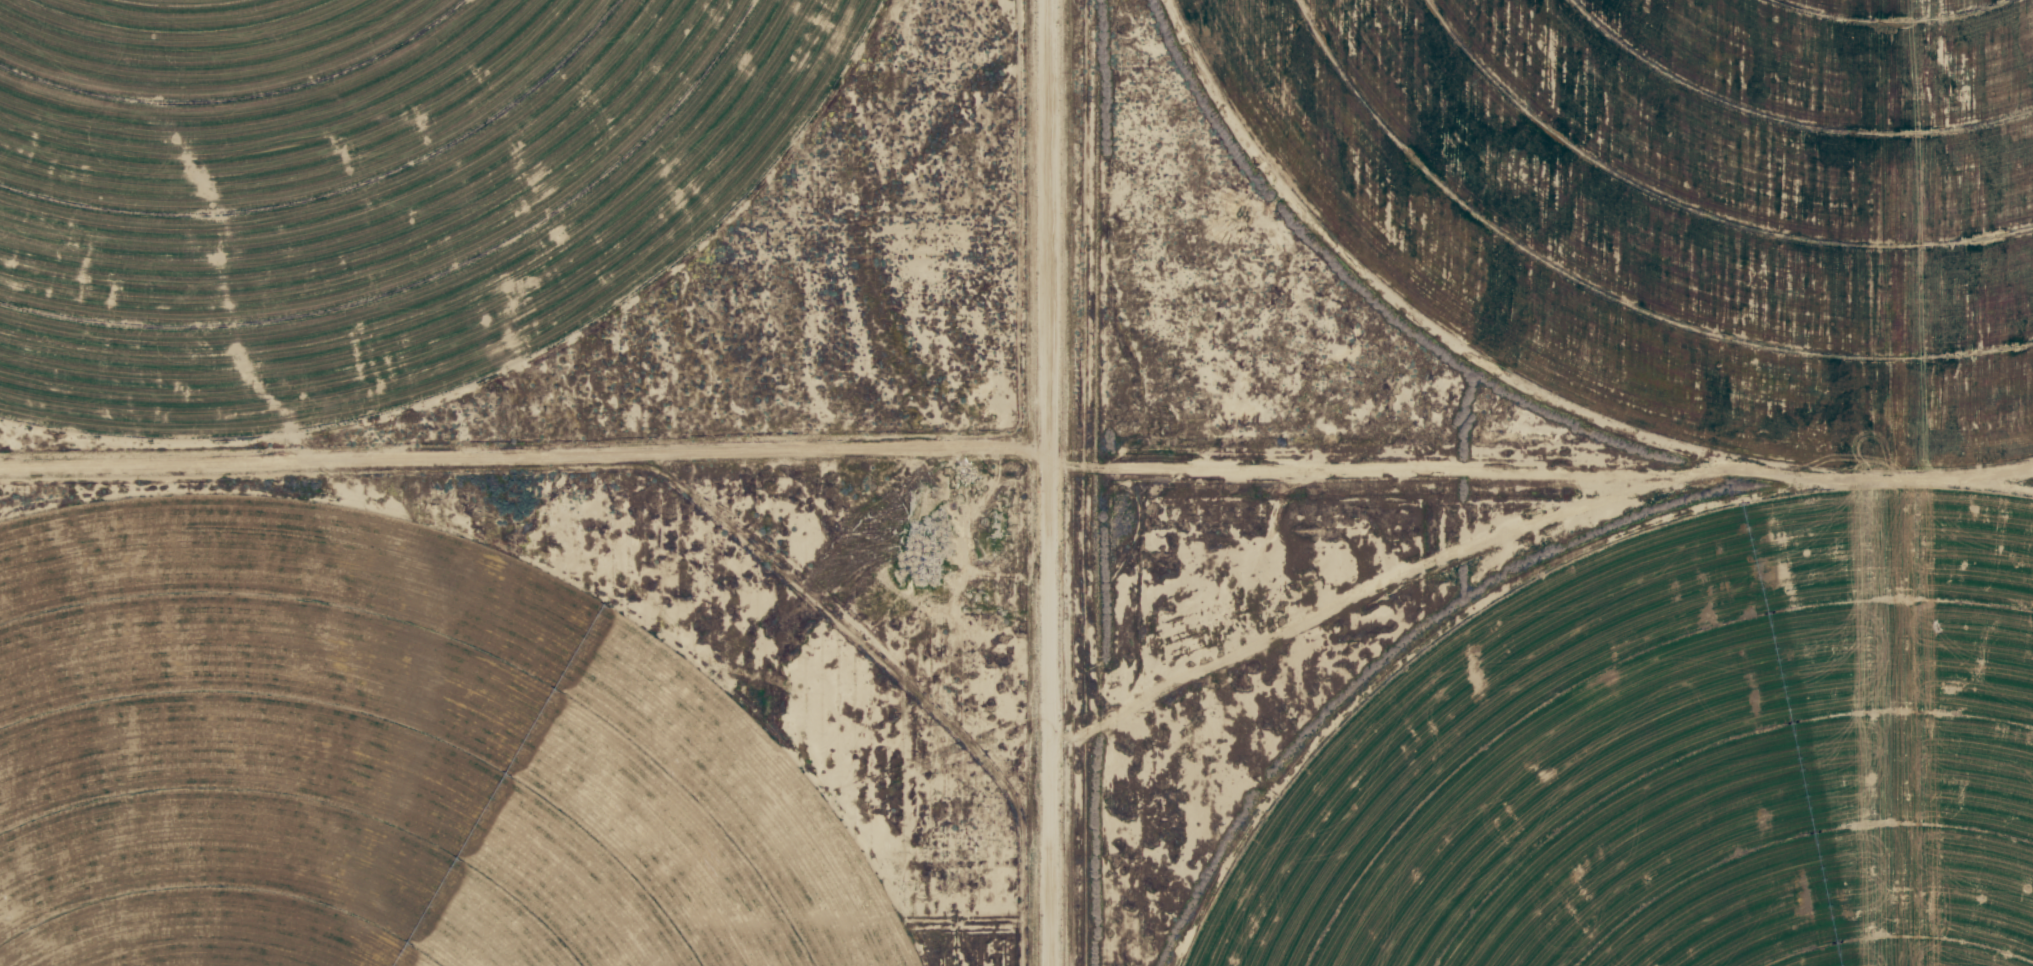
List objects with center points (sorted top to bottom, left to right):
crop: (359, 183)
road: (1405, 468)
road: (1026, 482)
crop: (1874, 484)
crop: (375, 765)

